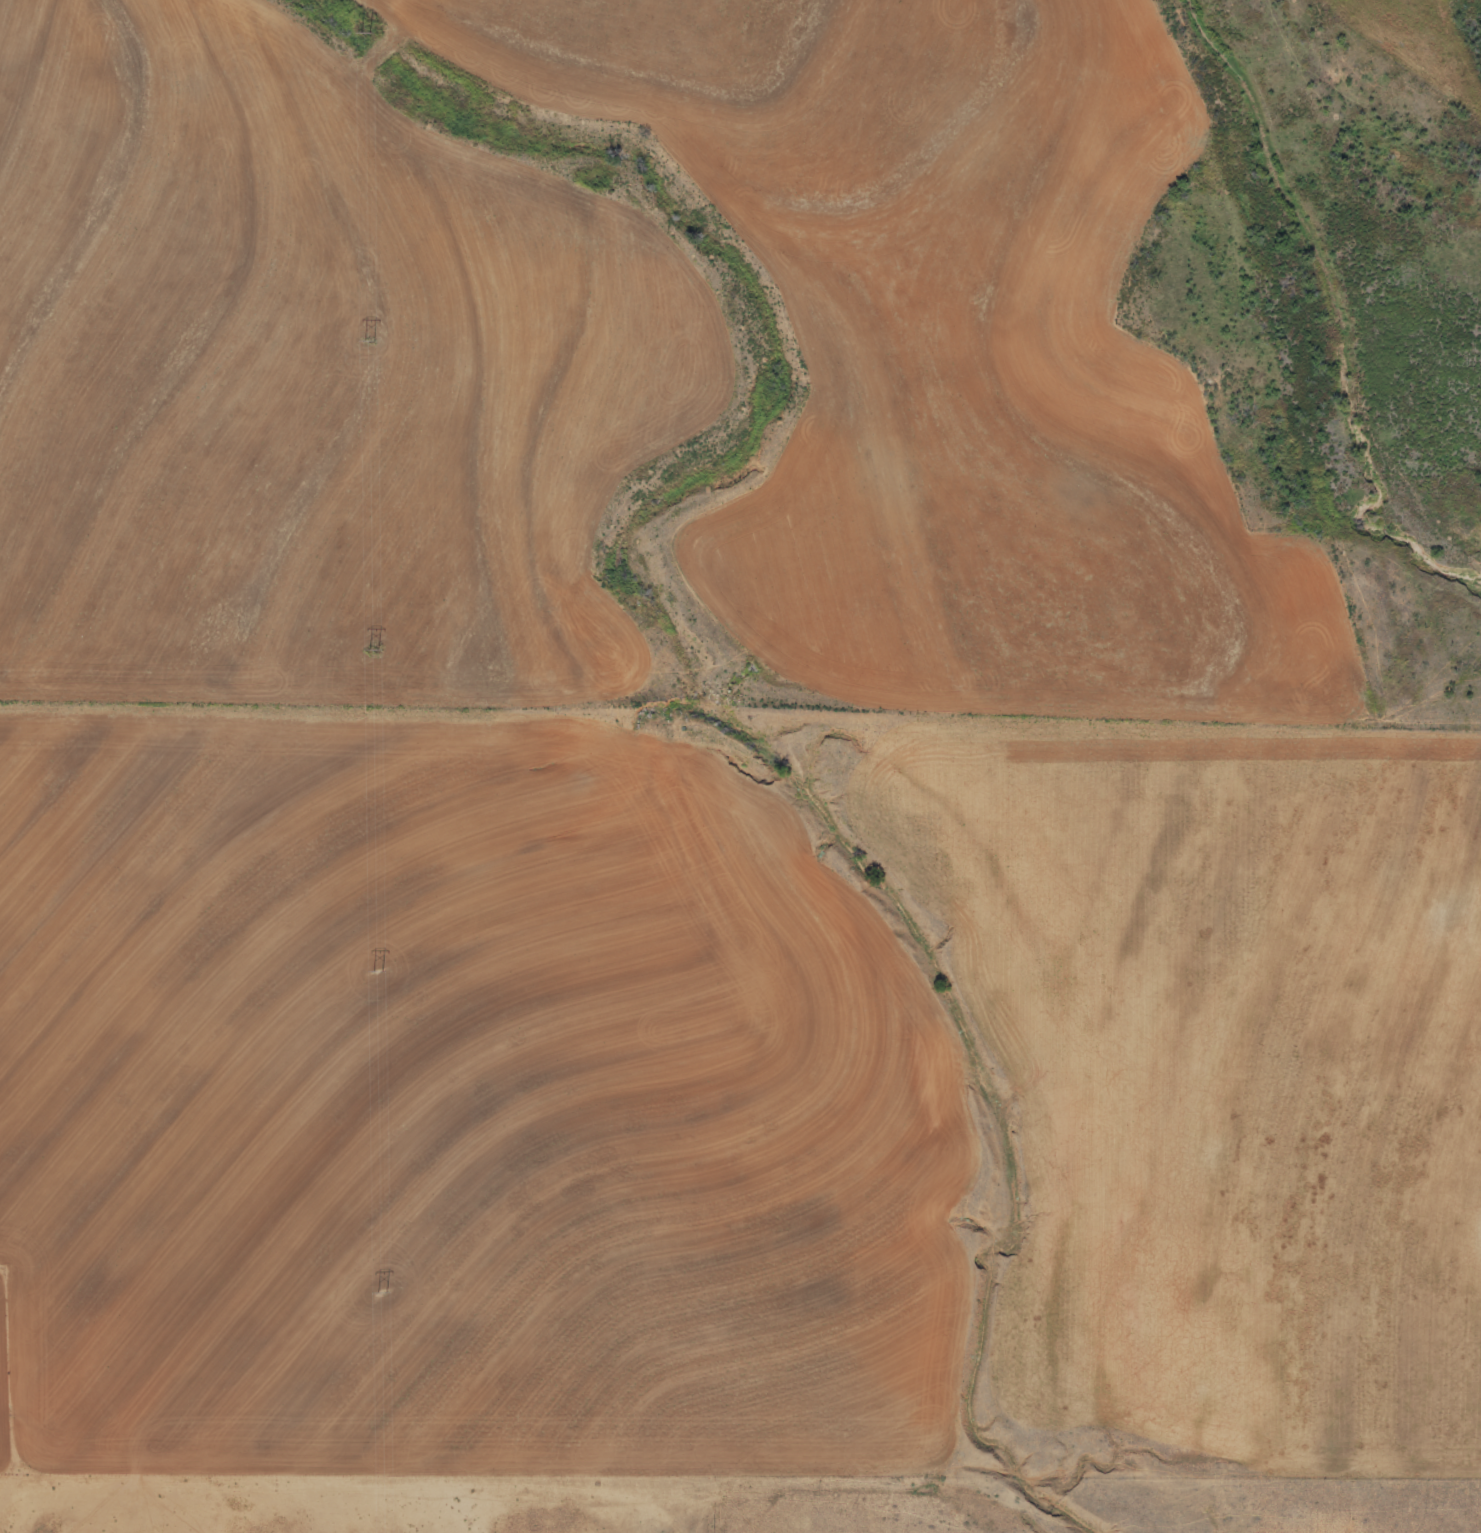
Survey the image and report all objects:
power tower: (364, 32)
power tower: (369, 340)
power tower: (372, 649)
power tower: (377, 971)
road: (1272, 1163)
power tower: (382, 1291)

